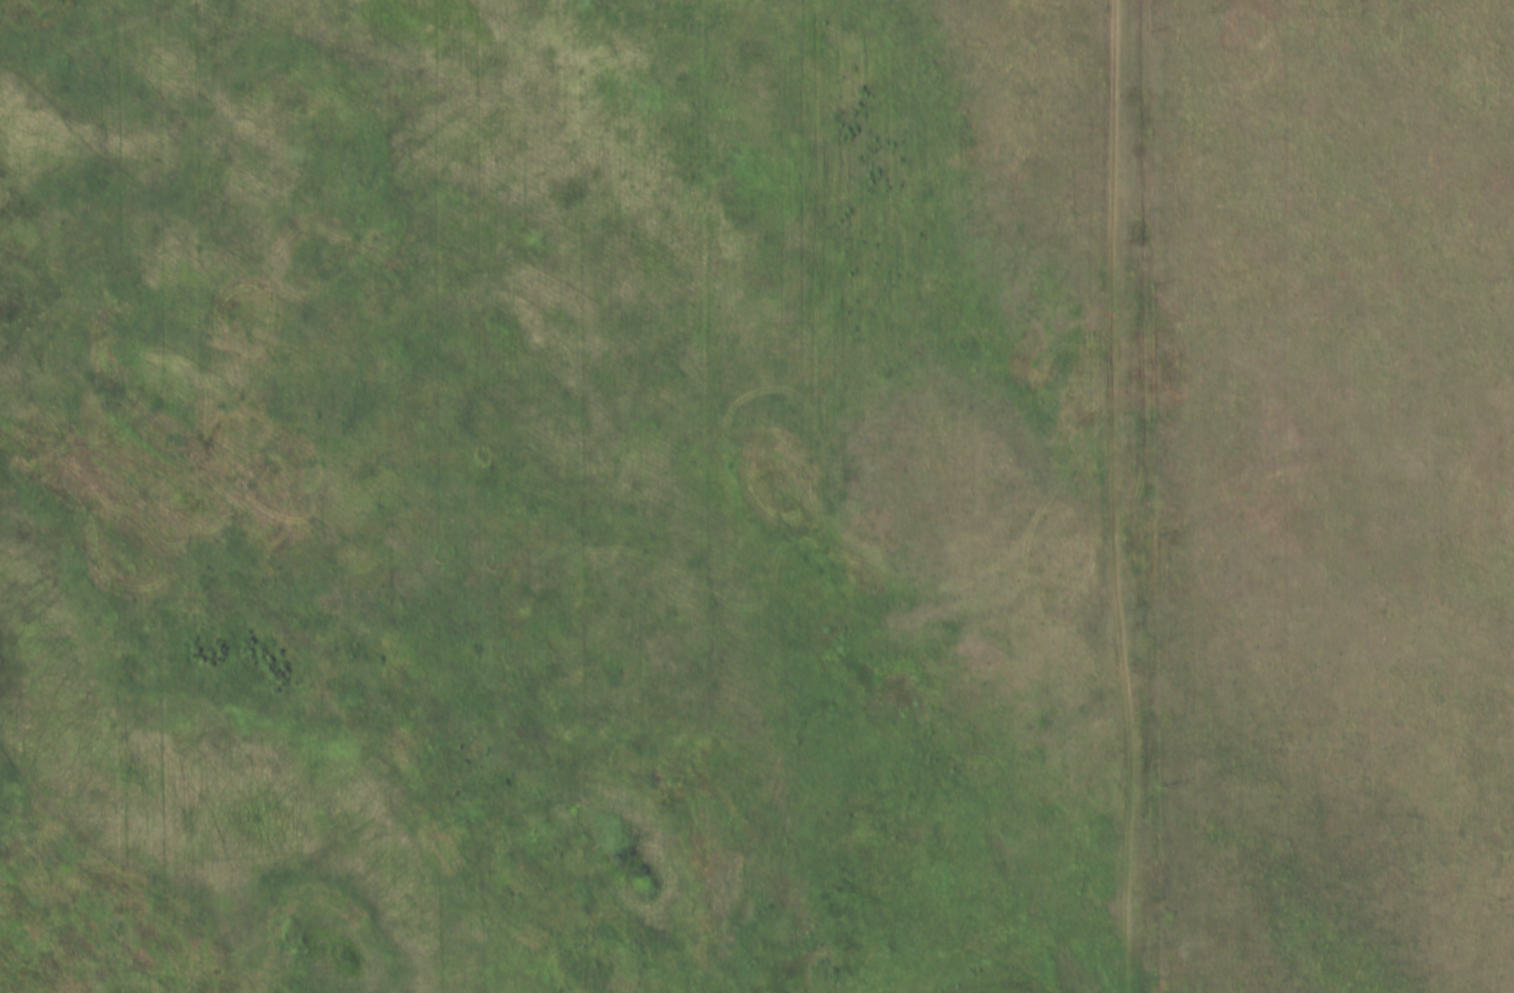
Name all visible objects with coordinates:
road: (1112, 496)

